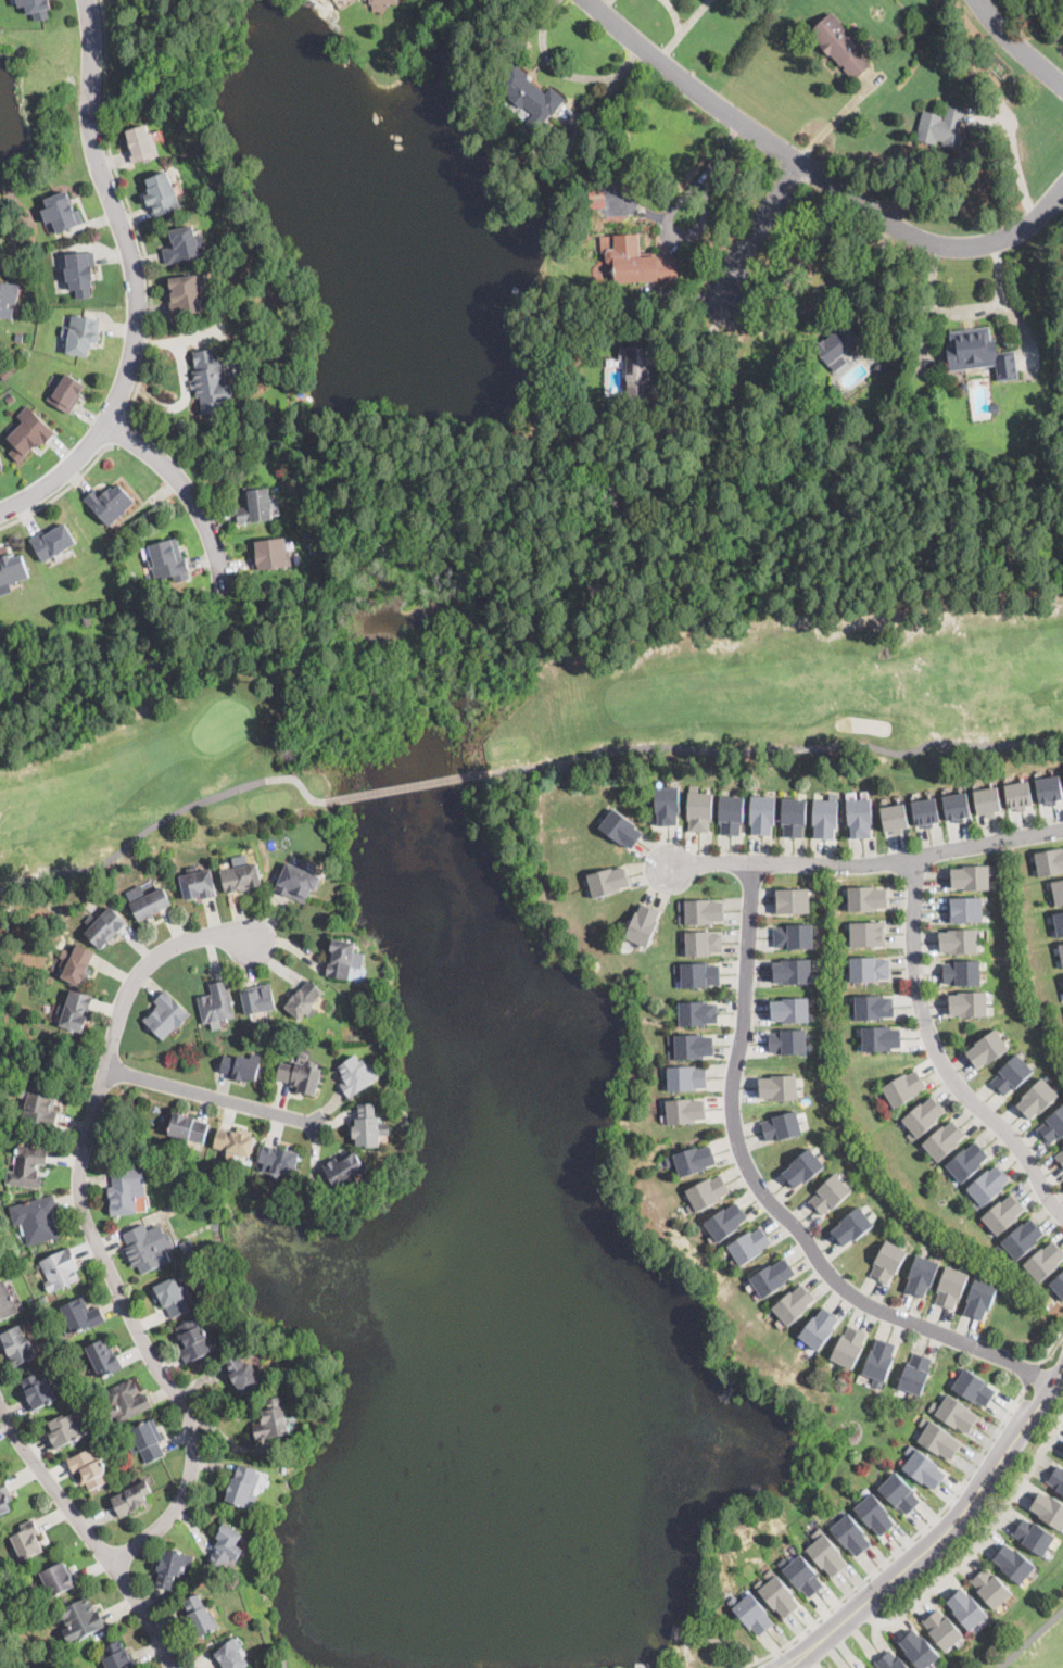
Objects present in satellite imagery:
building: (380, 3)
building: (36, 8)
building: (839, 45)
road: (1017, 47)
road: (92, 61)
building: (530, 97)
building: (941, 127)
building: (142, 143)
building: (562, 155)
road: (1015, 156)
road: (817, 175)
building: (162, 193)
building: (596, 194)
road: (676, 203)
building: (62, 212)
road: (131, 212)
road: (760, 227)
building: (182, 244)
building: (638, 262)
building: (80, 274)
building: (188, 294)
building: (8, 299)
building: (81, 333)
building: (20, 337)
road: (700, 337)
road: (134, 342)
building: (836, 344)
building: (979, 353)
building: (790, 365)
building: (878, 367)
building: (637, 369)
building: (5, 372)
building: (210, 381)
building: (964, 384)
building: (836, 389)
building: (66, 393)
building: (11, 399)
building: (995, 408)
road: (118, 432)
building: (28, 435)
building: (1, 466)
road: (188, 490)
road: (61, 494)
building: (110, 503)
building: (254, 505)
building: (52, 542)
building: (104, 544)
building: (145, 553)
building: (271, 553)
building: (168, 559)
building: (12, 570)
building: (86, 620)
park: (504, 696)
road: (776, 748)
road: (408, 785)
building: (1050, 788)
building: (1018, 794)
building: (988, 800)
building: (667, 806)
building: (957, 806)
building: (699, 811)
building: (926, 811)
building: (762, 814)
building: (731, 816)
building: (860, 817)
building: (895, 817)
road: (163, 818)
building: (794, 818)
building: (825, 818)
building: (621, 829)
road: (868, 861)
building: (1049, 862)
building: (240, 875)
building: (970, 879)
building: (298, 881)
building: (608, 882)
building: (198, 883)
building: (1058, 892)
building: (866, 897)
building: (793, 901)
building: (150, 905)
building: (965, 910)
building: (701, 912)
building: (1059, 924)
building: (643, 925)
building: (105, 928)
building: (868, 933)
building: (794, 937)
building: (958, 942)
building: (703, 944)
building: (1061, 952)
building: (342, 959)
building: (76, 964)
building: (869, 968)
building: (793, 972)
building: (961, 973)
building: (698, 975)
building: (258, 998)
building: (304, 1000)
building: (216, 1003)
building: (967, 1004)
building: (874, 1007)
building: (790, 1010)
building: (75, 1011)
building: (697, 1014)
building: (166, 1015)
building: (881, 1039)
building: (787, 1042)
building: (691, 1047)
building: (987, 1049)
road: (938, 1056)
building: (241, 1066)
building: (301, 1075)
building: (356, 1075)
building: (1011, 1075)
building: (686, 1078)
building: (777, 1087)
building: (903, 1088)
road: (212, 1098)
building: (1037, 1099)
building: (40, 1105)
building: (685, 1111)
building: (923, 1119)
building: (367, 1126)
building: (1052, 1126)
building: (782, 1127)
building: (187, 1129)
building: (944, 1141)
building: (233, 1143)
building: (1060, 1158)
building: (279, 1160)
building: (693, 1161)
building: (966, 1162)
building: (27, 1167)
building: (802, 1168)
building: (345, 1170)
building: (987, 1187)
building: (126, 1189)
building: (707, 1193)
building: (828, 1195)
road: (768, 1198)
building: (1003, 1214)
building: (36, 1218)
building: (725, 1222)
building: (851, 1227)
road: (91, 1229)
building: (1023, 1239)
building: (187, 1246)
building: (749, 1246)
building: (145, 1250)
building: (887, 1262)
building: (1045, 1262)
building: (60, 1269)
building: (921, 1276)
building: (772, 1278)
building: (1059, 1285)
building: (950, 1288)
building: (173, 1296)
building: (980, 1299)
building: (7, 1302)
building: (794, 1305)
building: (222, 1310)
building: (81, 1315)
building: (820, 1328)
road: (1053, 1339)
building: (193, 1341)
building: (17, 1344)
building: (849, 1348)
building: (103, 1357)
building: (879, 1361)
building: (242, 1374)
building: (915, 1374)
road: (1030, 1374)
building: (282, 1377)
building: (973, 1388)
building: (38, 1391)
building: (127, 1400)
building: (957, 1415)
building: (271, 1421)
building: (63, 1430)
building: (938, 1440)
building: (148, 1441)
building: (1062, 1457)
building: (90, 1467)
building: (922, 1468)
building: (1056, 1479)
building: (243, 1486)
building: (899, 1494)
building: (4, 1498)
building: (130, 1499)
building: (1049, 1509)
building: (874, 1515)
road: (88, 1534)
road: (941, 1534)
building: (850, 1536)
building: (1033, 1537)
building: (27, 1541)
road: (977, 1542)
building: (225, 1547)
road: (896, 1550)
building: (826, 1556)
building: (1012, 1564)
building: (173, 1568)
building: (801, 1576)
building: (59, 1578)
building: (990, 1589)
building: (777, 1594)
building: (965, 1609)
building: (752, 1614)
building: (200, 1616)
building: (80, 1619)
building: (942, 1630)
park: (17, 1632)
building: (678, 1632)
park: (1024, 1632)
road: (1032, 1640)
road: (723, 1642)
road: (685, 1648)
building: (918, 1650)
building: (231, 1655)
building: (117, 1656)
building: (889, 1660)
building: (281, 1661)

